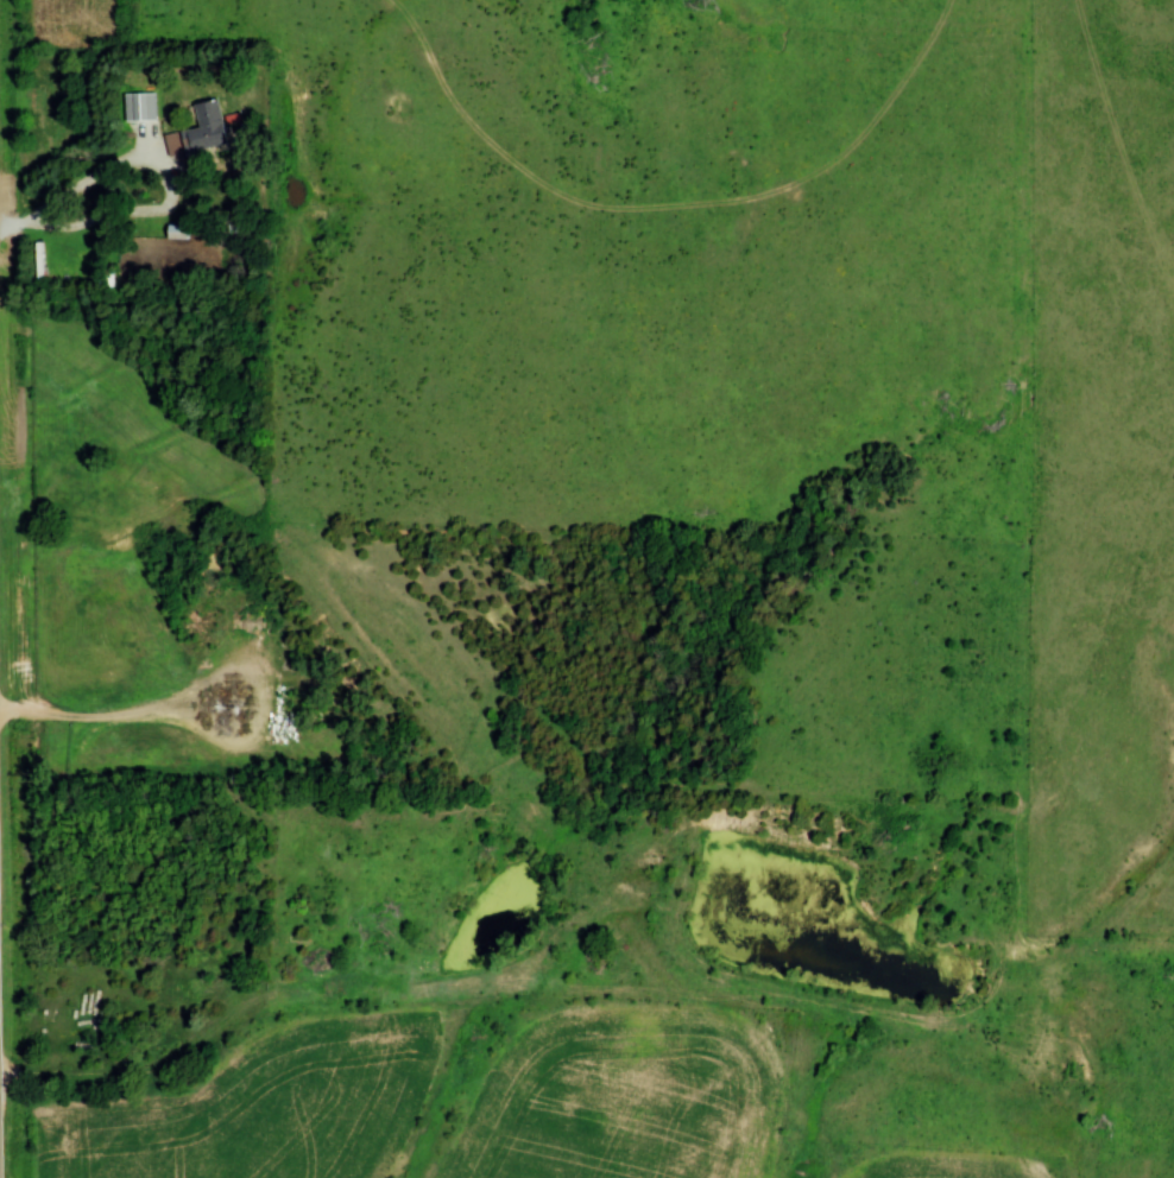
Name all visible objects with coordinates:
building: (201, 132)
road: (93, 180)
crop: (621, 1095)
crop: (258, 1108)
crop: (940, 1166)

